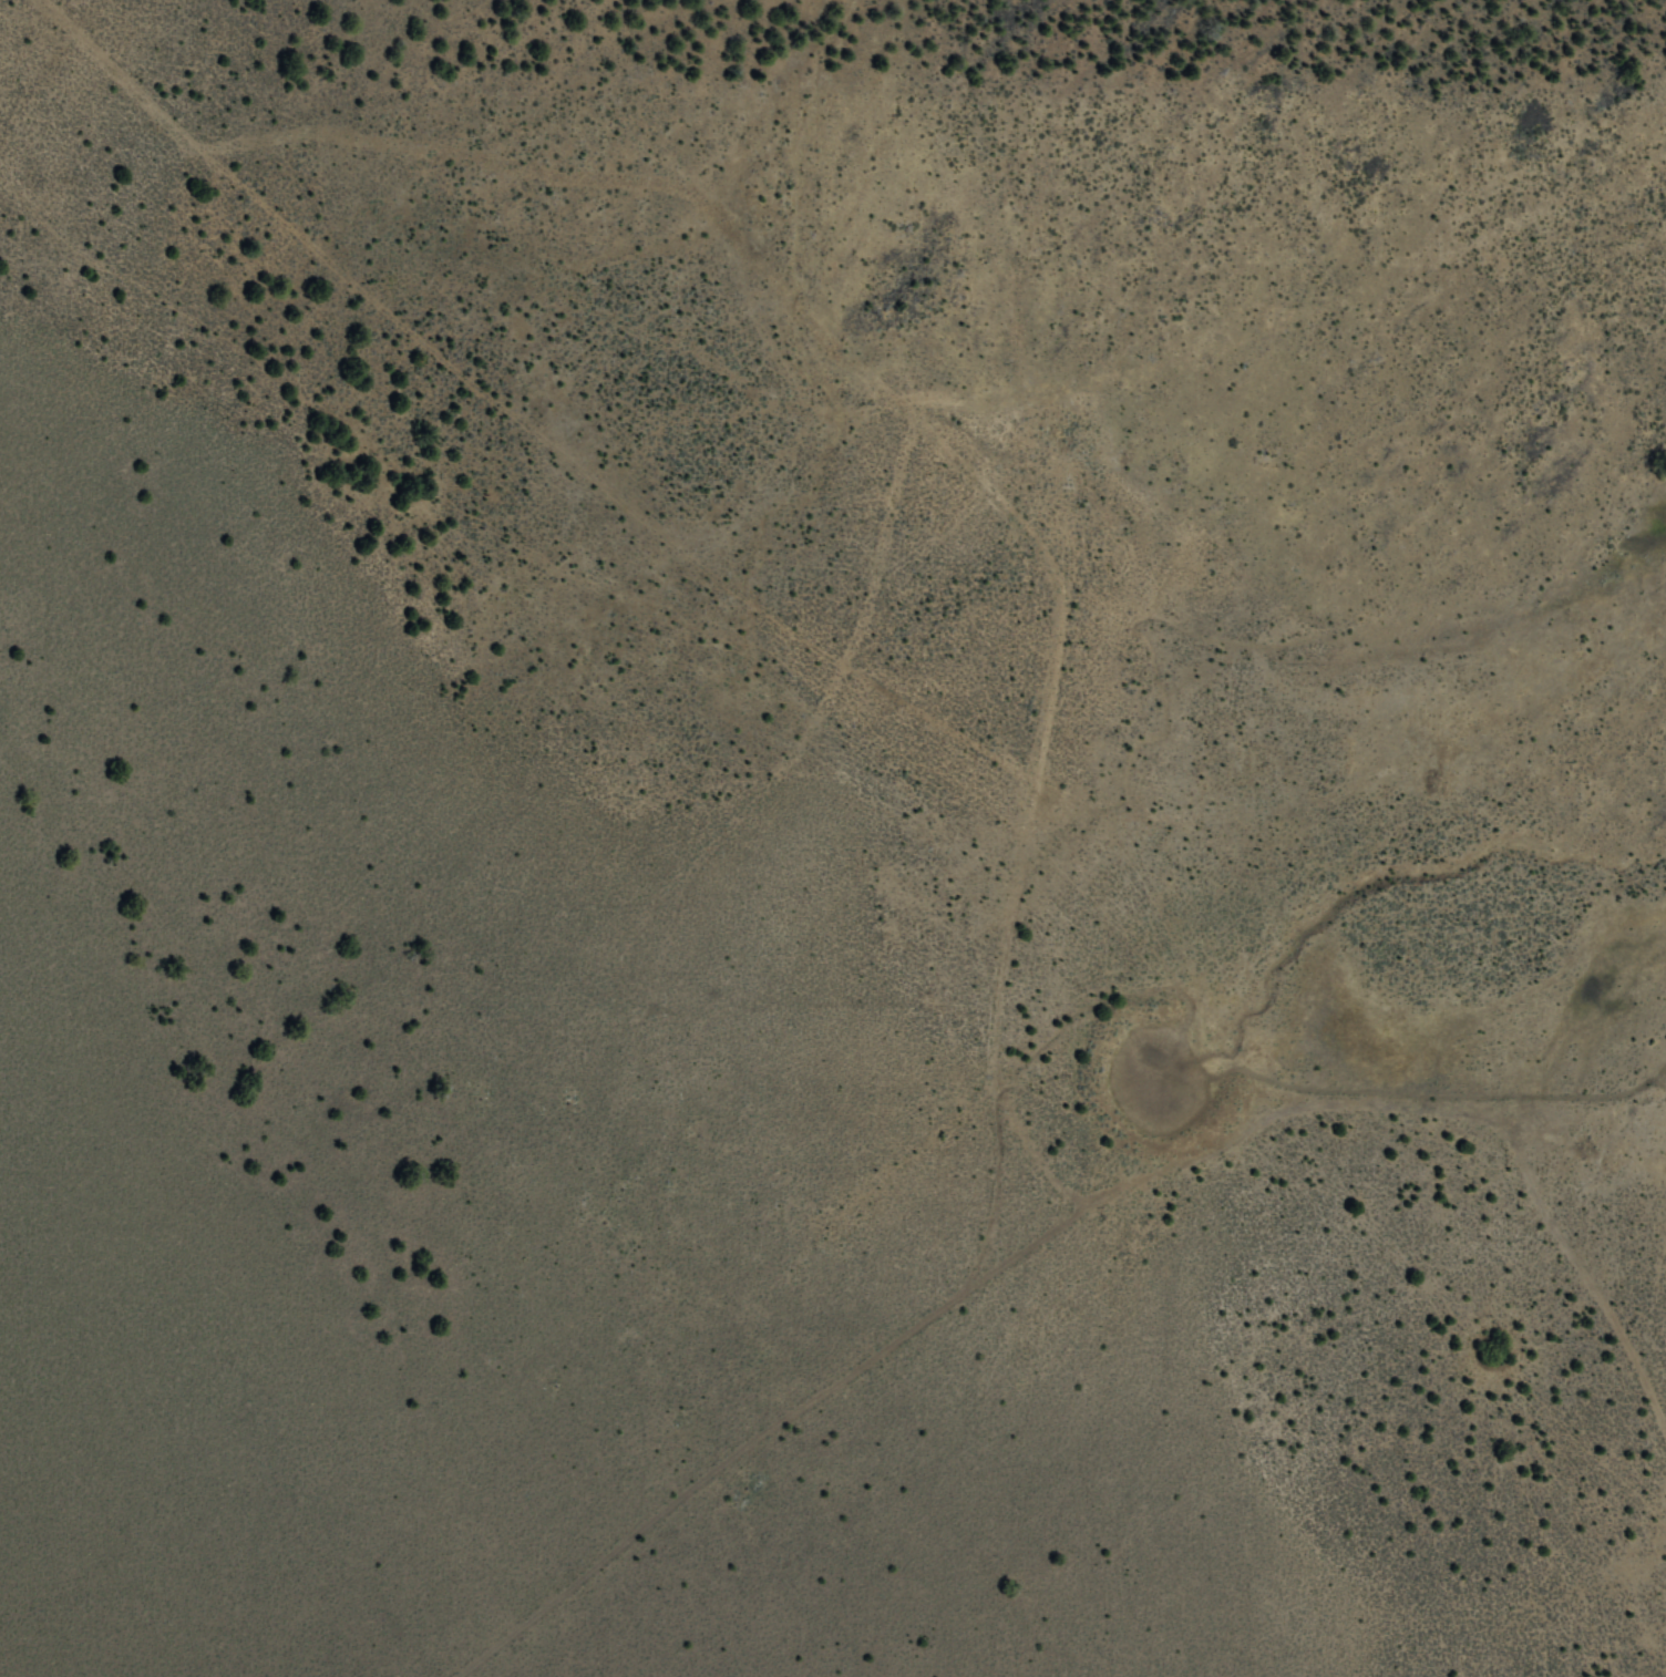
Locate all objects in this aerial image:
road: (913, 707)
road: (958, 1295)

